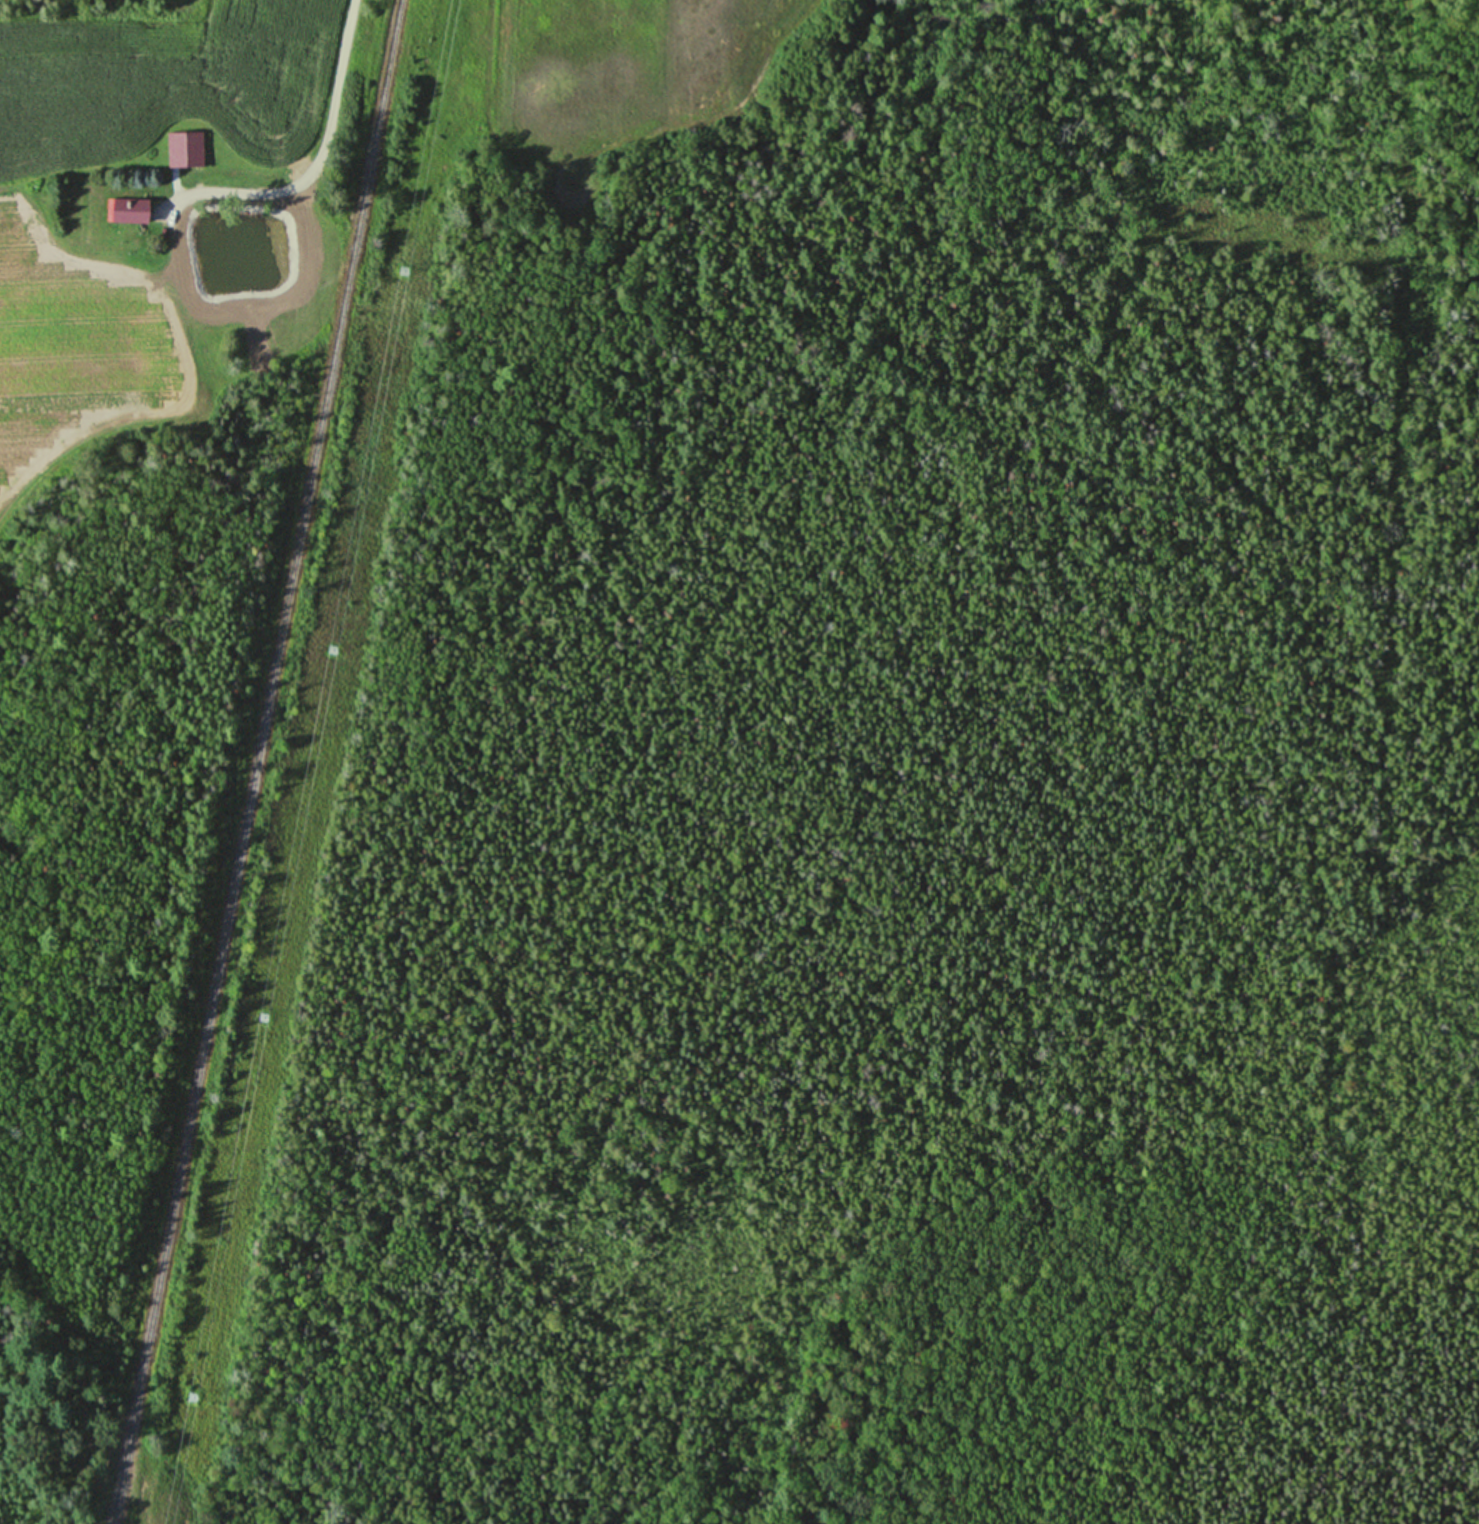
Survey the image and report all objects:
road: (318, 162)
building: (126, 211)
power tower: (402, 270)
power tower: (332, 649)
railway: (254, 761)
power tower: (263, 1016)
power tower: (192, 1397)

